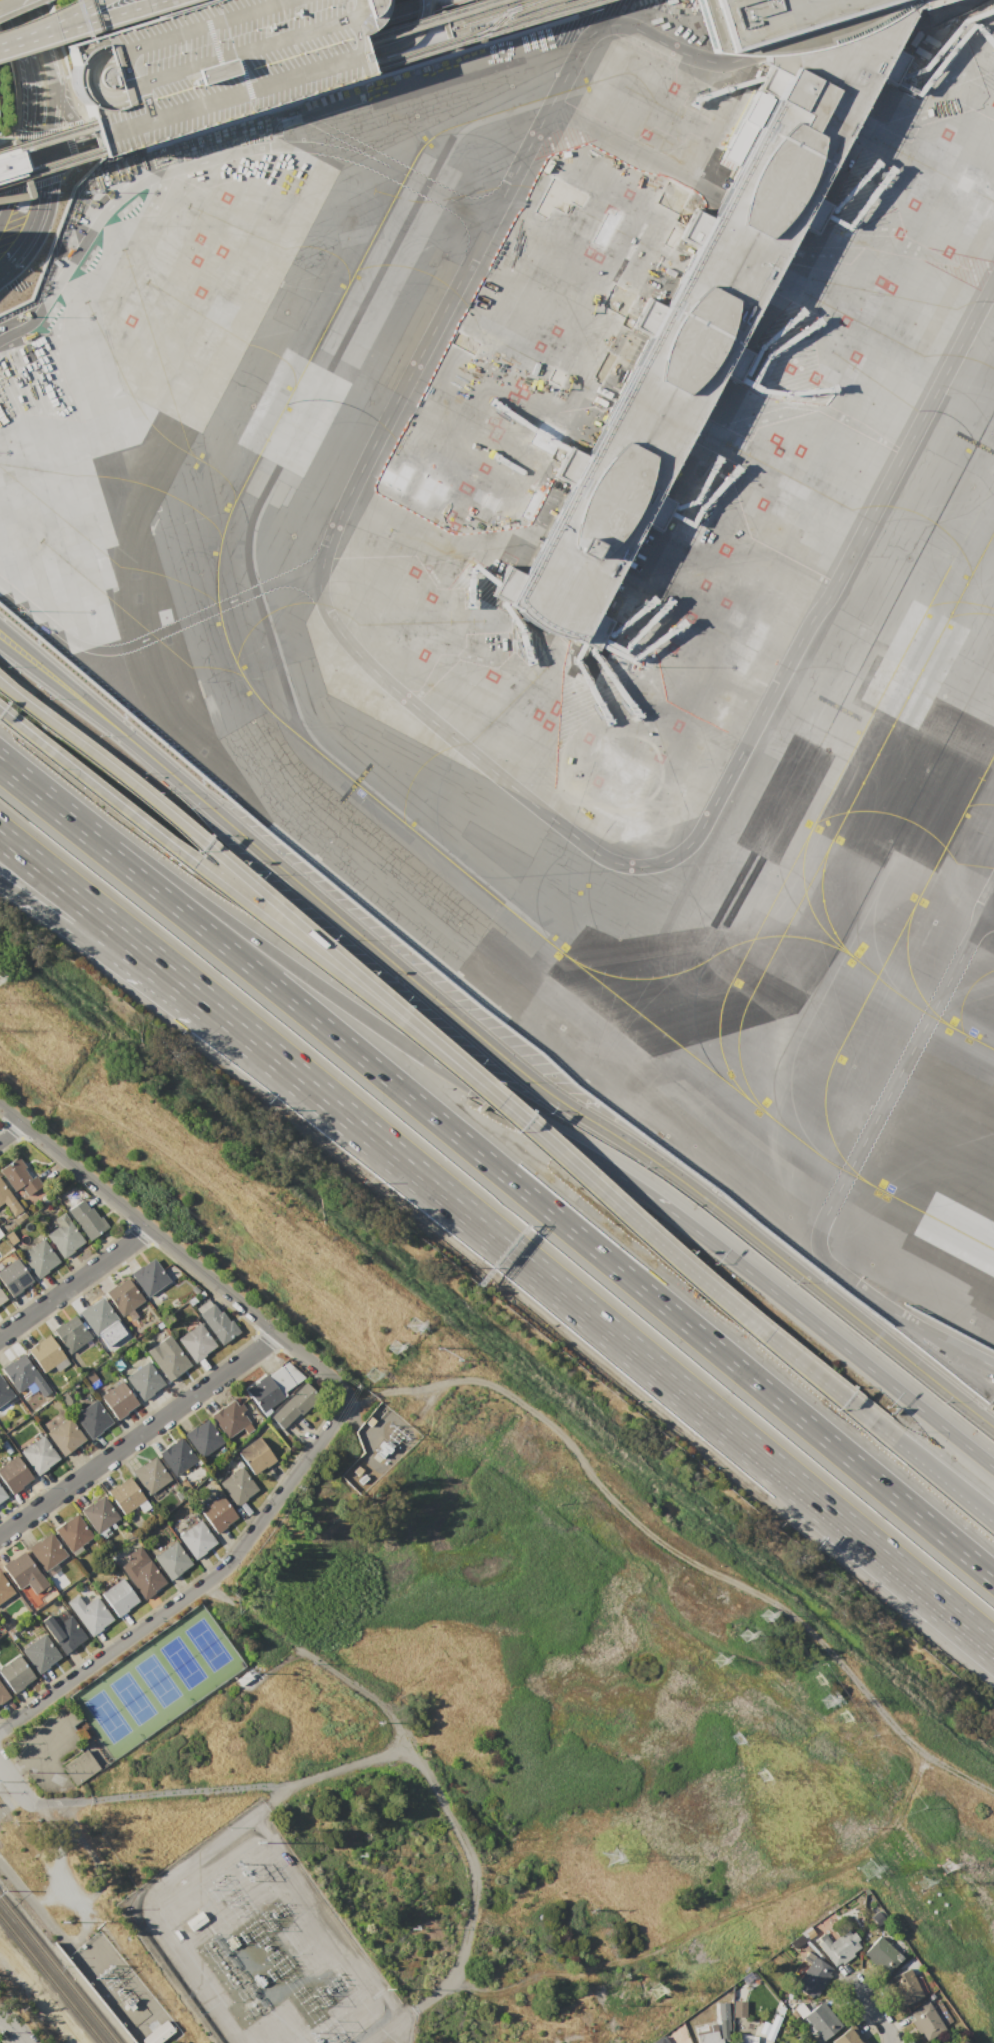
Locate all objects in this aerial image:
road: (2, 1)
railway: (520, 3)
road: (9, 4)
road: (10, 7)
road: (85, 10)
road: (113, 10)
road: (953, 12)
road: (104, 15)
railway: (475, 17)
railway: (523, 17)
railway: (486, 22)
road: (435, 24)
road: (35, 32)
road: (19, 35)
road: (402, 39)
railway: (361, 43)
building: (211, 63)
parking lot: (211, 63)
road: (47, 70)
railway: (241, 74)
road: (225, 89)
road: (29, 104)
railway: (231, 108)
road: (63, 111)
road: (325, 128)
road: (69, 137)
road: (38, 148)
building: (9, 163)
road: (159, 174)
road: (15, 187)
road: (438, 193)
road: (759, 206)
road: (763, 208)
road: (41, 212)
airport terminal: (709, 287)
building: (709, 287)
airport apron: (134, 355)
road: (650, 413)
road: (653, 416)
airport apron: (797, 425)
road: (880, 494)
road: (332, 527)
airport: (563, 533)
road: (152, 634)
building: (692, 671)
road: (3, 685)
road: (3, 685)
airport taxiway: (873, 714)
road: (9, 719)
road: (105, 719)
road: (878, 769)
airport taxiway: (368, 794)
airport taxiway: (843, 815)
road: (225, 864)
road: (226, 889)
airport taxiway: (799, 899)
airport taxiway: (823, 905)
road: (215, 910)
road: (986, 916)
airport taxiway: (736, 942)
airport taxiway: (886, 954)
airport taxiway: (903, 962)
road: (168, 970)
road: (167, 995)
airport taxiway: (692, 1001)
airport taxiway: (918, 1005)
road: (596, 1124)
road: (11, 1132)
road: (548, 1134)
road: (852, 1159)
road: (498, 1169)
building: (19, 1176)
building: (10, 1204)
building: (87, 1217)
building: (62, 1235)
road: (666, 1247)
road: (174, 1249)
building: (38, 1258)
building: (13, 1276)
building: (149, 1277)
road: (74, 1282)
building: (124, 1295)
building: (2, 1298)
road: (585, 1311)
building: (97, 1316)
building: (217, 1322)
power tower: (419, 1326)
building: (70, 1332)
road: (830, 1337)
building: (196, 1342)
power tower: (396, 1349)
building: (44, 1353)
road: (945, 1354)
building: (169, 1361)
building: (87, 1376)
building: (24, 1379)
building: (144, 1380)
power tower: (379, 1380)
building: (4, 1392)
building: (264, 1393)
building: (118, 1399)
building: (293, 1406)
building: (229, 1418)
building: (92, 1419)
road: (139, 1435)
building: (64, 1436)
building: (203, 1438)
power substation: (378, 1446)
building: (38, 1454)
building: (176, 1455)
building: (255, 1455)
building: (13, 1474)
building: (150, 1475)
road: (945, 1481)
building: (237, 1485)
building: (124, 1494)
building: (2, 1496)
building: (218, 1513)
building: (99, 1514)
building: (72, 1532)
building: (196, 1539)
building: (46, 1551)
road: (672, 1556)
building: (171, 1560)
building: (141, 1572)
building: (22, 1573)
road: (916, 1579)
road: (197, 1587)
building: (4, 1588)
building: (119, 1597)
building: (89, 1613)
power tower: (768, 1615)
building: (63, 1630)
power tower: (757, 1649)
building: (40, 1653)
power tower: (730, 1666)
road: (274, 1668)
building: (15, 1674)
park: (156, 1680)
road: (363, 1692)
building: (2, 1693)
power tower: (837, 1702)
park: (522, 1727)
power tower: (750, 1766)
building: (79, 1767)
road: (13, 1780)
road: (172, 1795)
road: (6, 1799)
road: (12, 1806)
road: (456, 1827)
power tower: (614, 1862)
power tower: (950, 1868)
power tower: (867, 1871)
power tower: (924, 1883)
road: (719, 1917)
building: (195, 1920)
building: (836, 1945)
building: (882, 1954)
power substation: (241, 1955)
railway: (58, 1970)
building: (814, 1974)
railway: (51, 1979)
building: (904, 1986)
building: (738, 2008)
road: (878, 2014)
building: (822, 2019)
building: (722, 2020)
building: (926, 2020)
road: (11, 2028)
building: (706, 2033)
building: (157, 2034)
building: (765, 2036)
building: (845, 2037)
building: (746, 2038)
building: (658, 2040)

